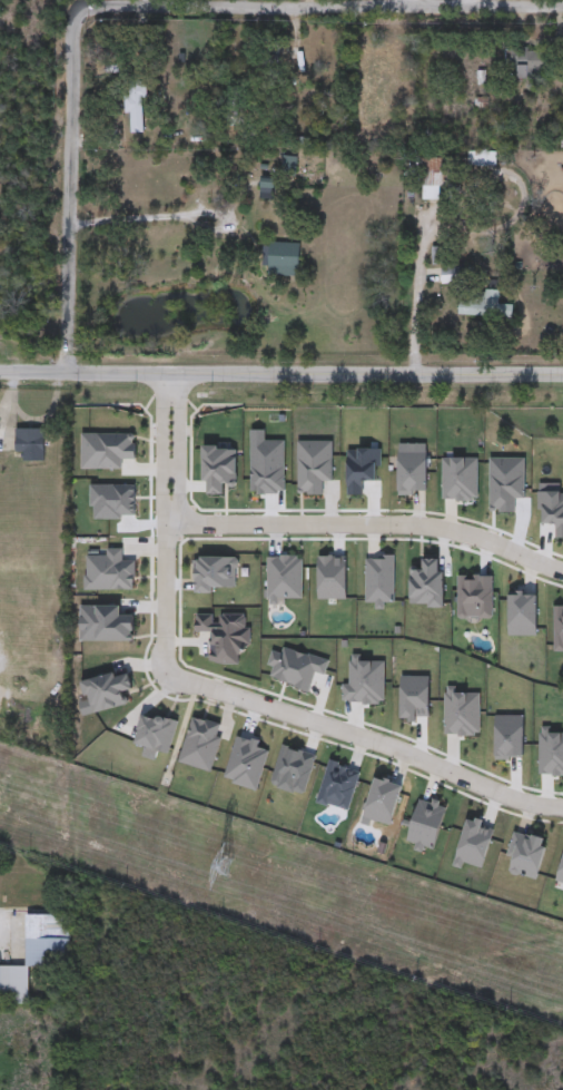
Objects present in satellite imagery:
road: (474, 2)
road: (145, 3)
road: (142, 7)
building: (529, 66)
building: (387, 76)
building: (136, 106)
building: (482, 159)
building: (438, 179)
building: (267, 192)
road: (179, 217)
building: (285, 259)
building: (454, 274)
road: (413, 296)
building: (485, 305)
road: (36, 371)
road: (241, 373)
road: (487, 373)
building: (23, 442)
road: (368, 523)
road: (226, 694)
power tower: (228, 867)
building: (37, 955)

